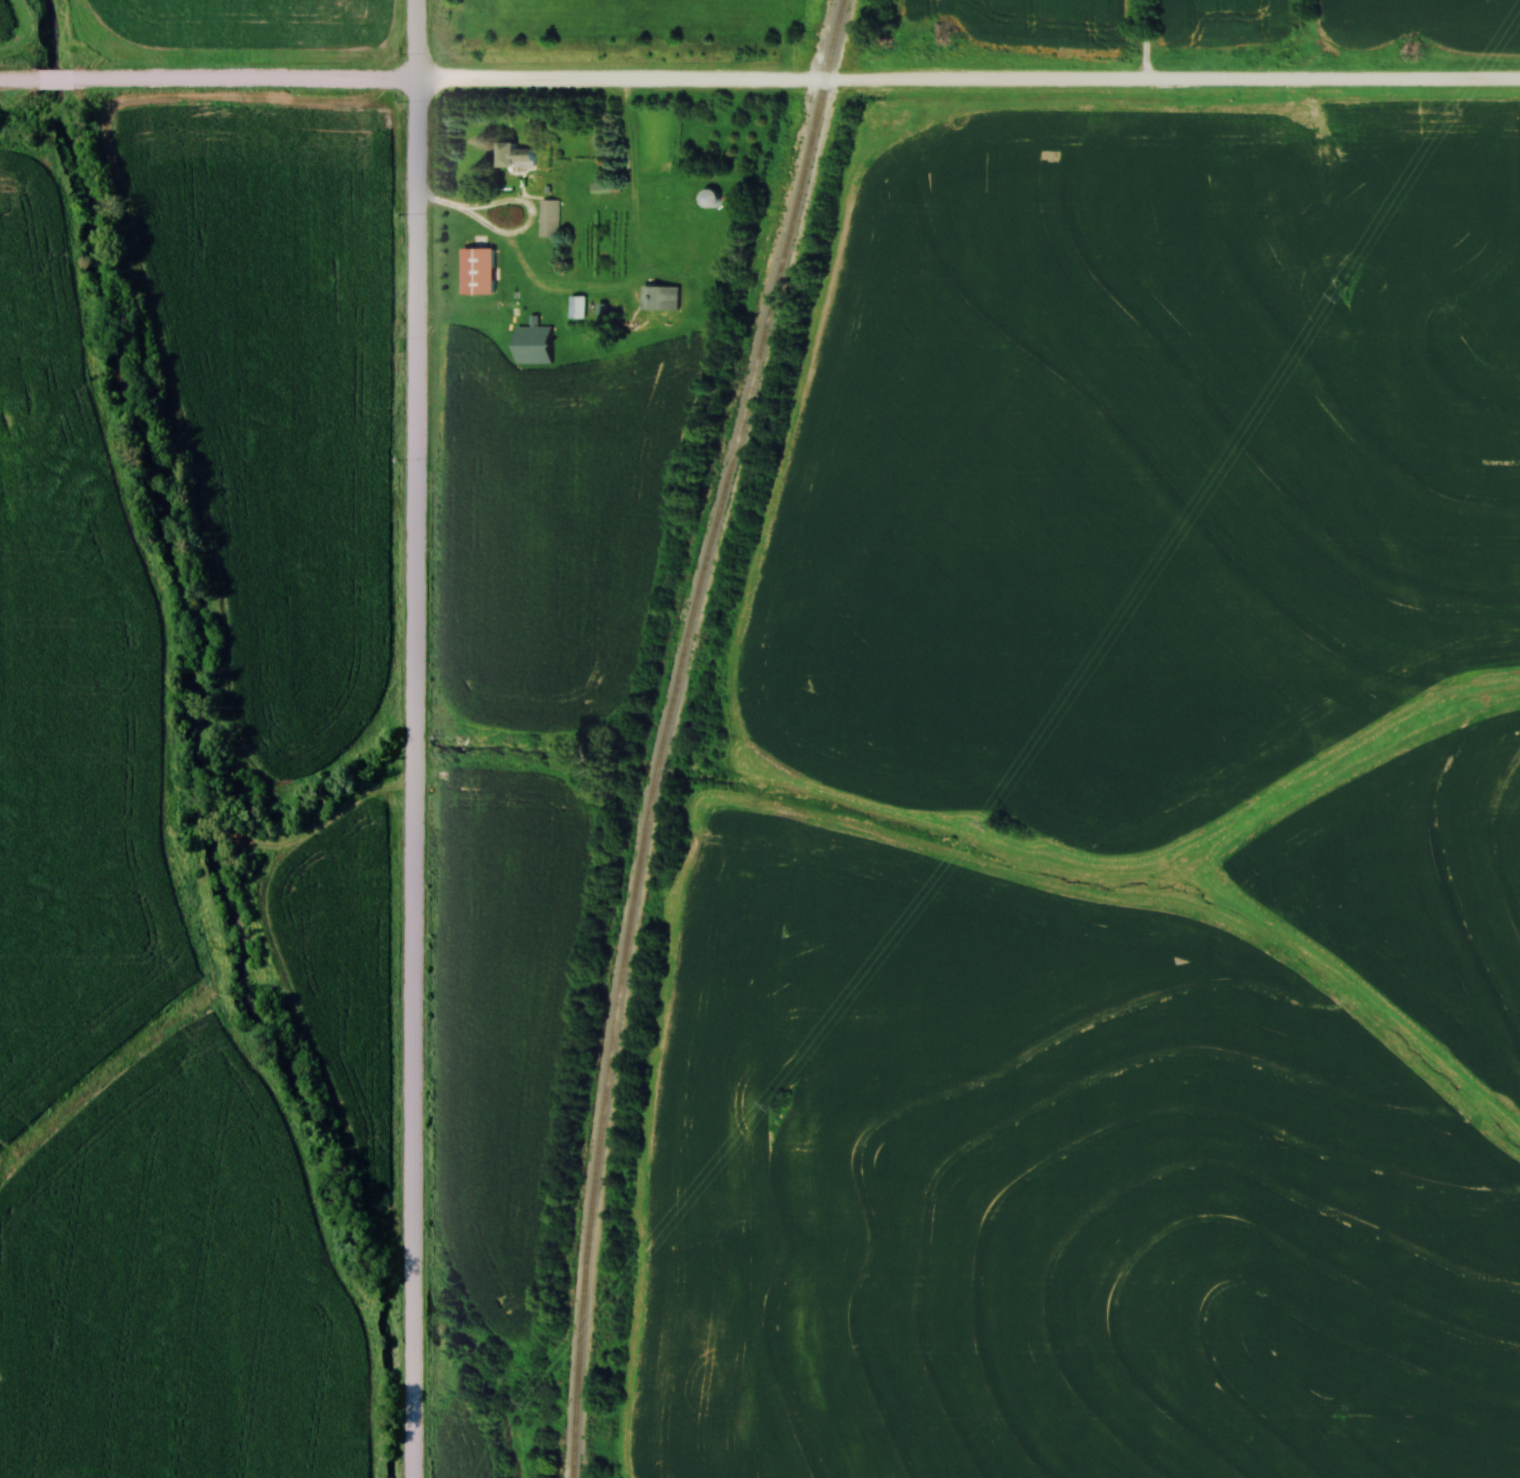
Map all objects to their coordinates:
road: (1148, 42)
road: (759, 83)
building: (515, 157)
building: (712, 198)
building: (552, 215)
building: (480, 269)
power tower: (1342, 297)
building: (661, 298)
building: (578, 308)
building: (537, 346)
railway: (673, 732)
road: (417, 739)

